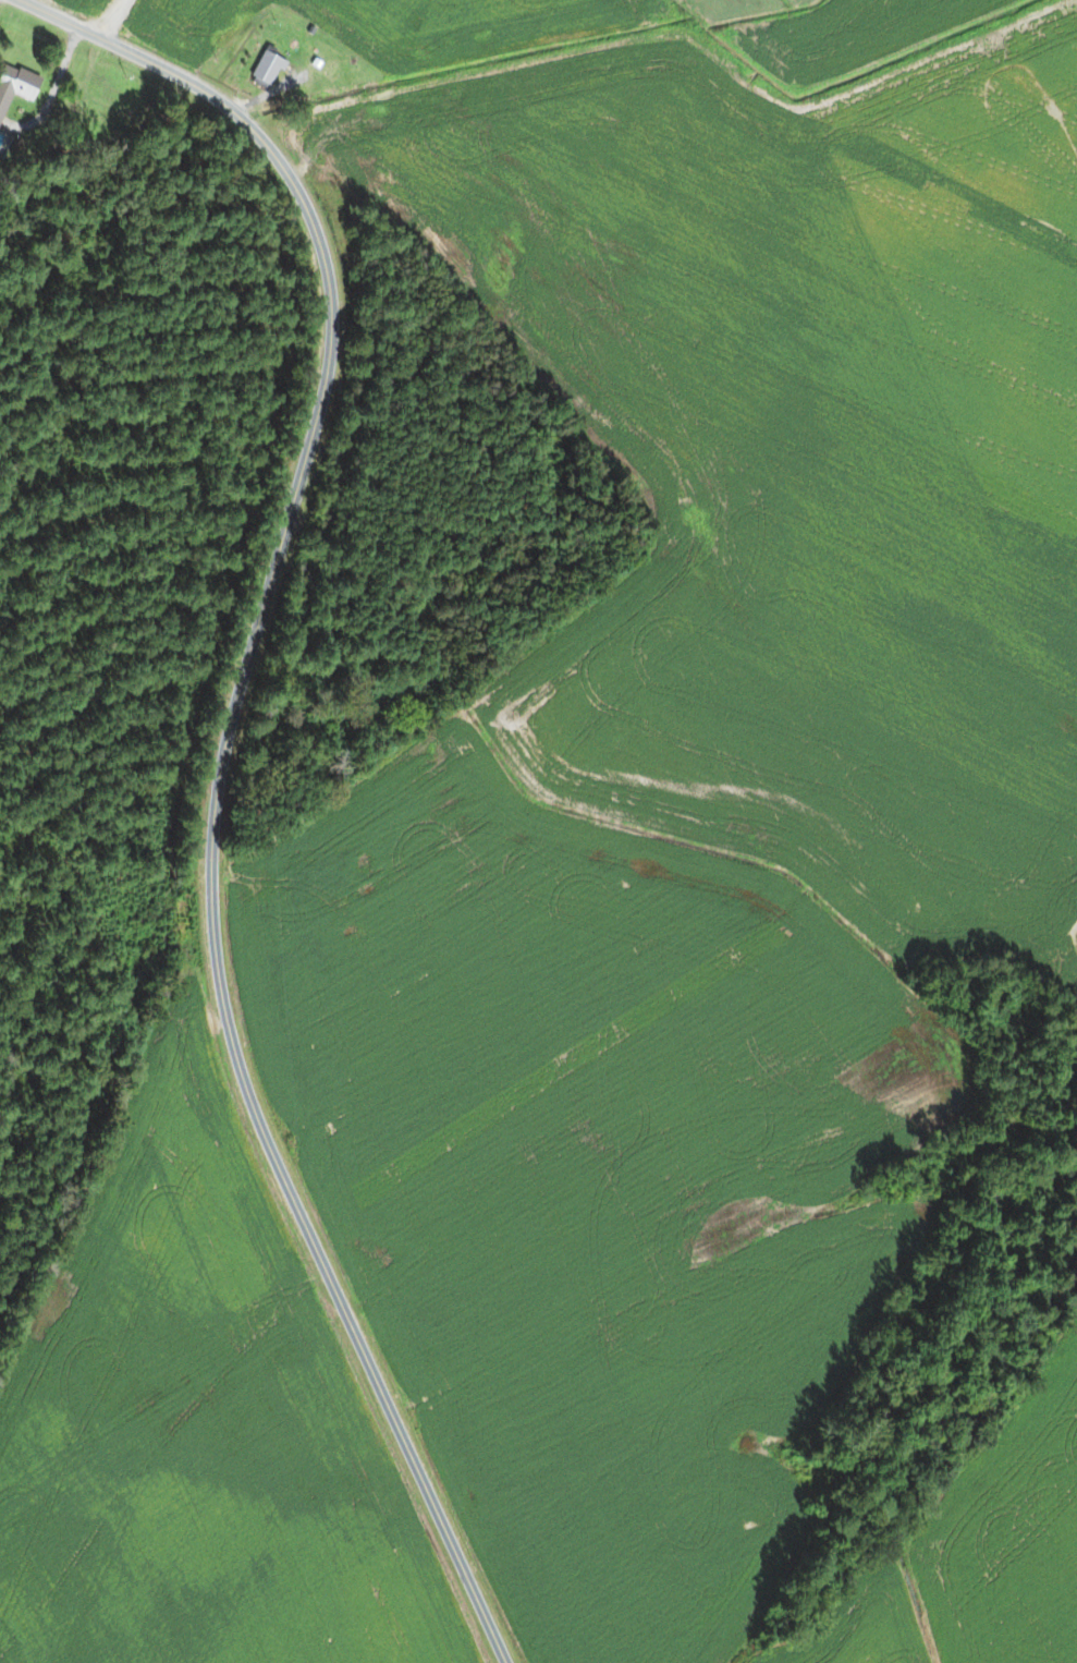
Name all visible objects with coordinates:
building: (321, 65)
building: (265, 69)
building: (15, 85)
building: (3, 143)
road: (220, 776)

